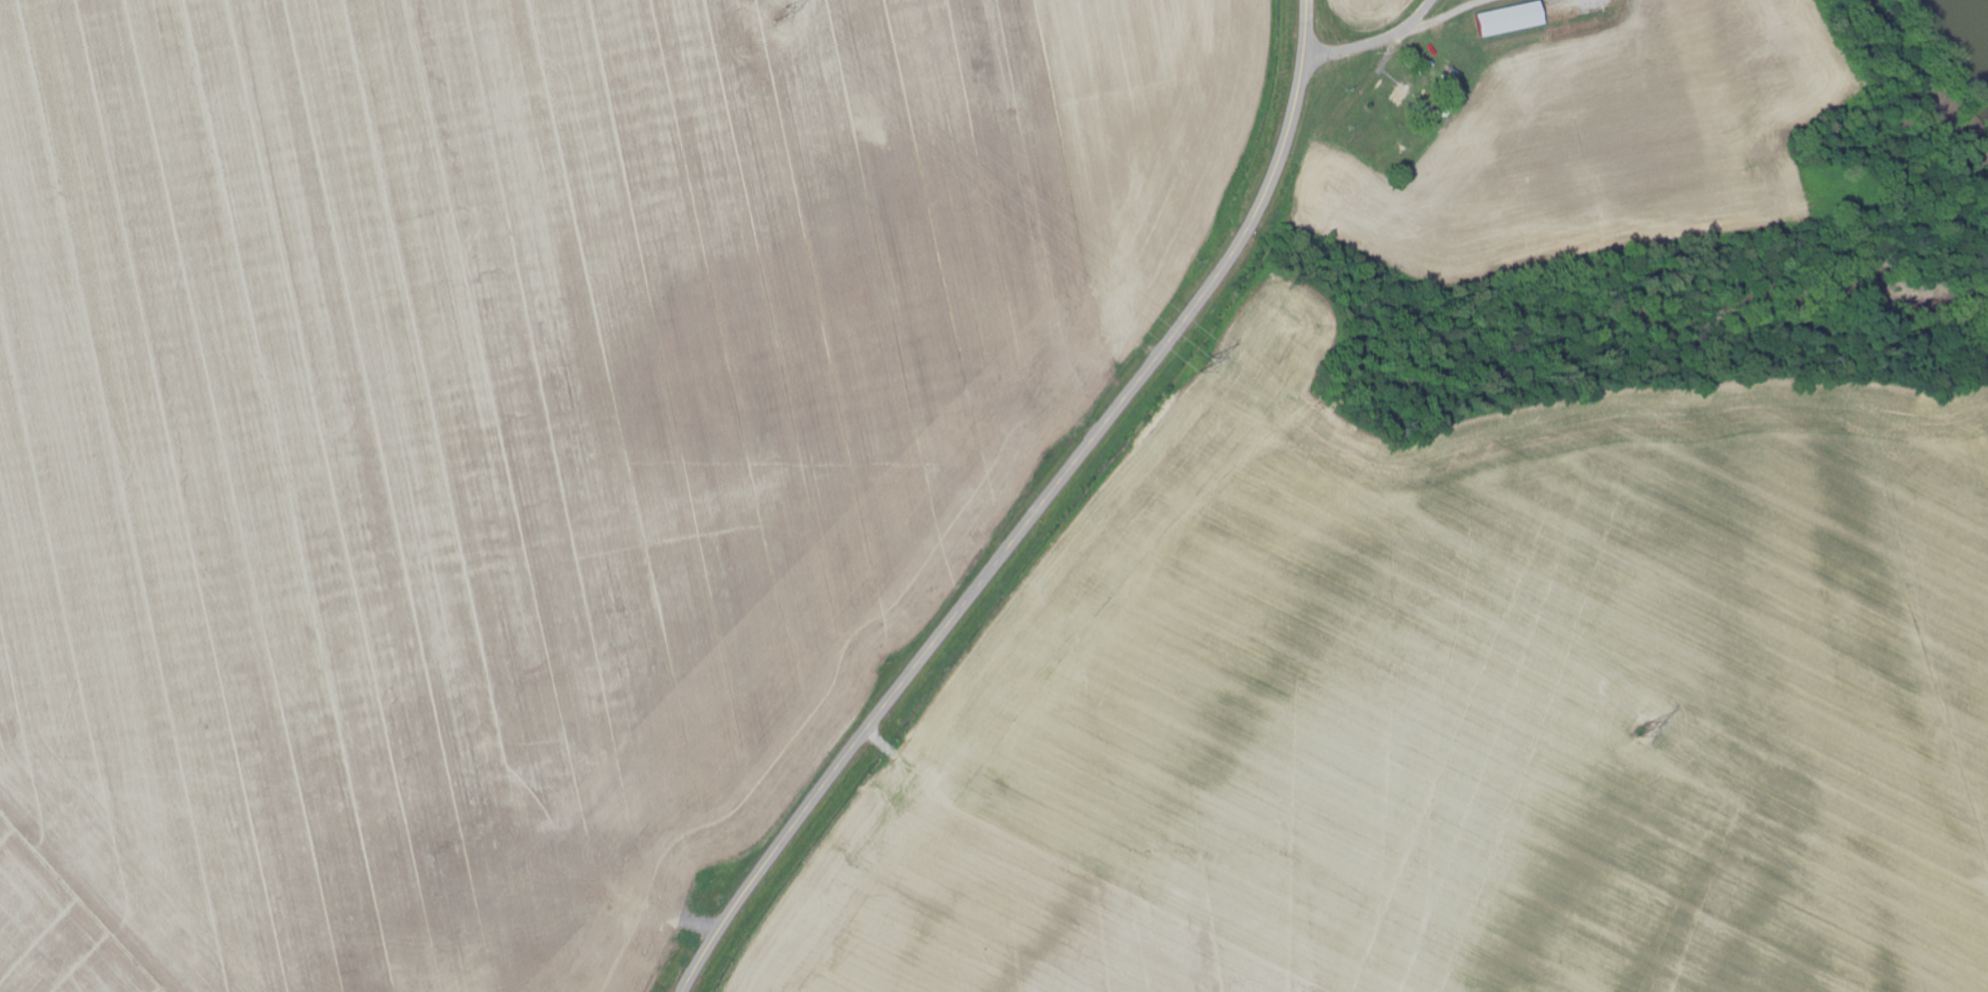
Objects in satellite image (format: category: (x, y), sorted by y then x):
power tower: (781, 13)
river: (1974, 19)
building: (1514, 21)
road: (1375, 43)
power tower: (1208, 365)
road: (1035, 513)
power tower: (1640, 732)

